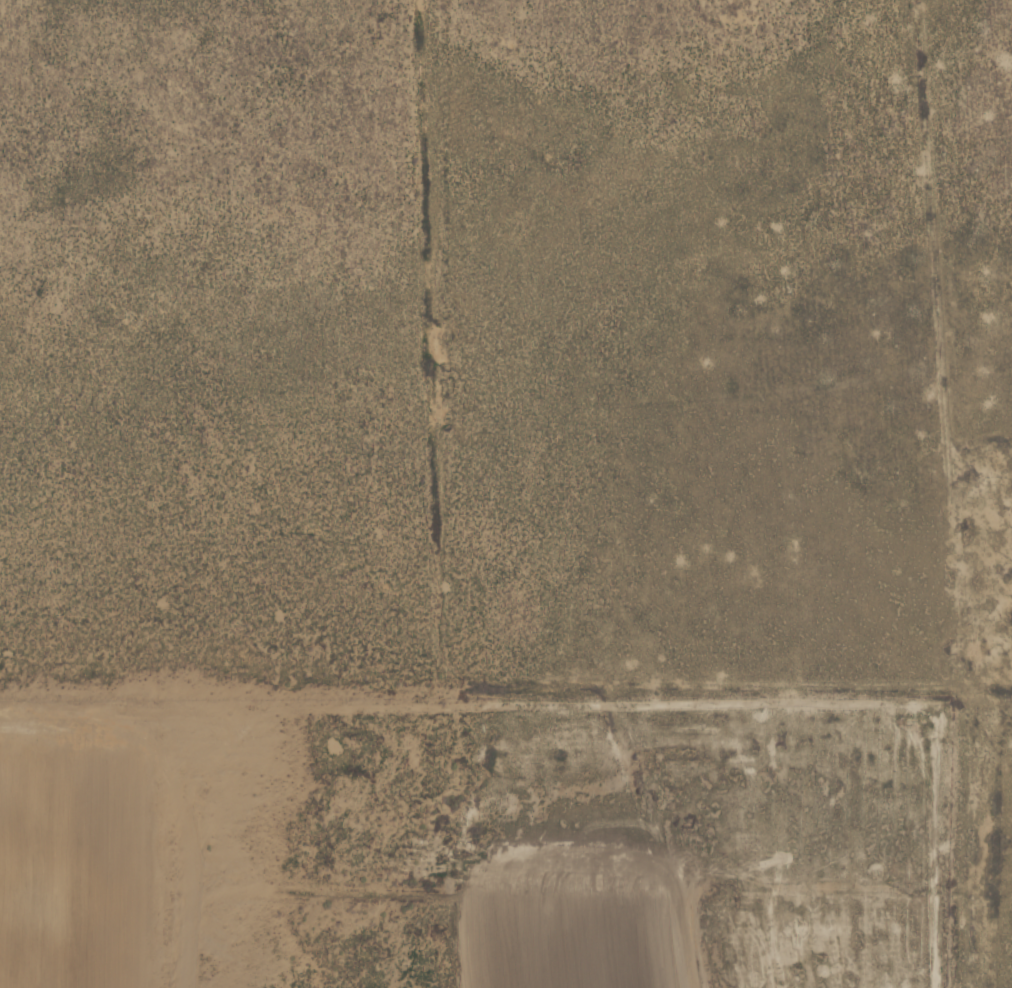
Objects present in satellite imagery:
landfill: (66, 862)
landfill: (561, 944)

